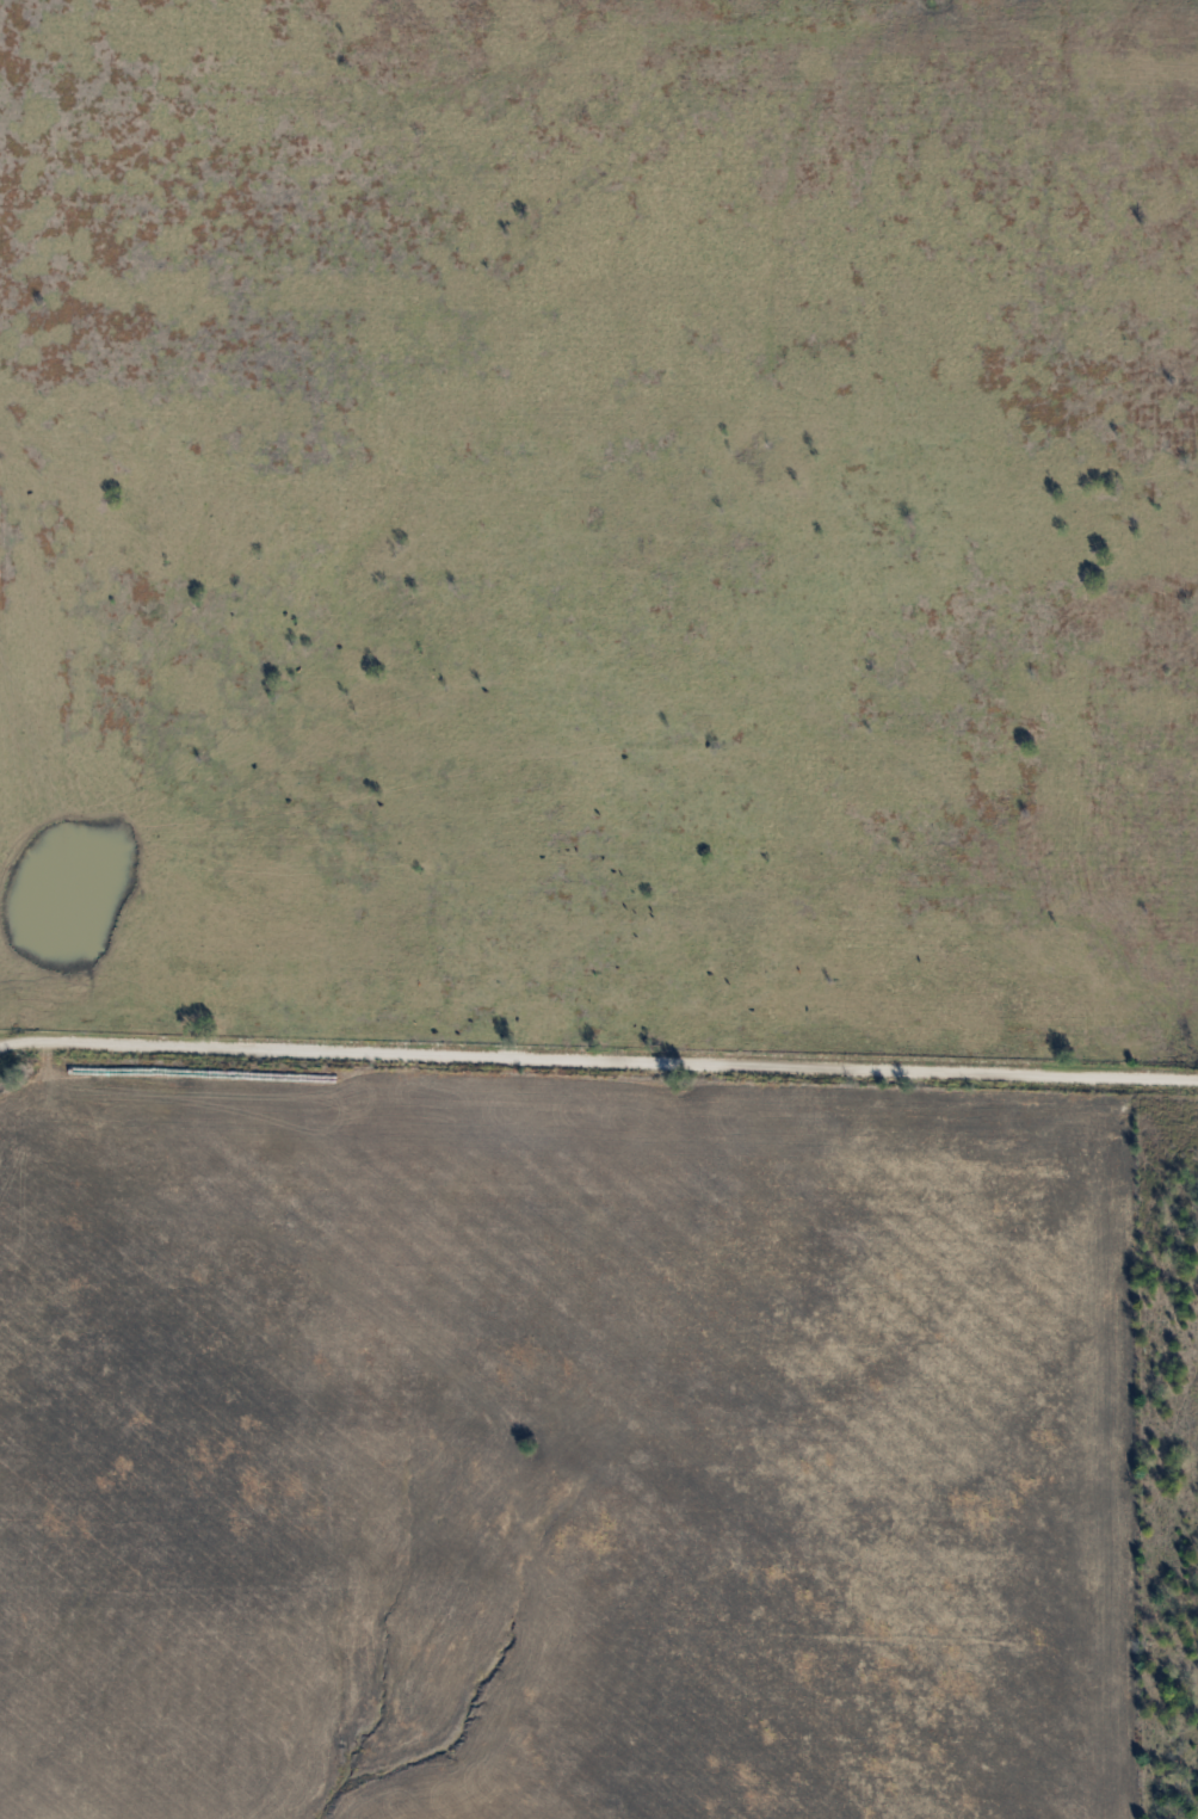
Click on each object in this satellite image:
road: (598, 1060)

